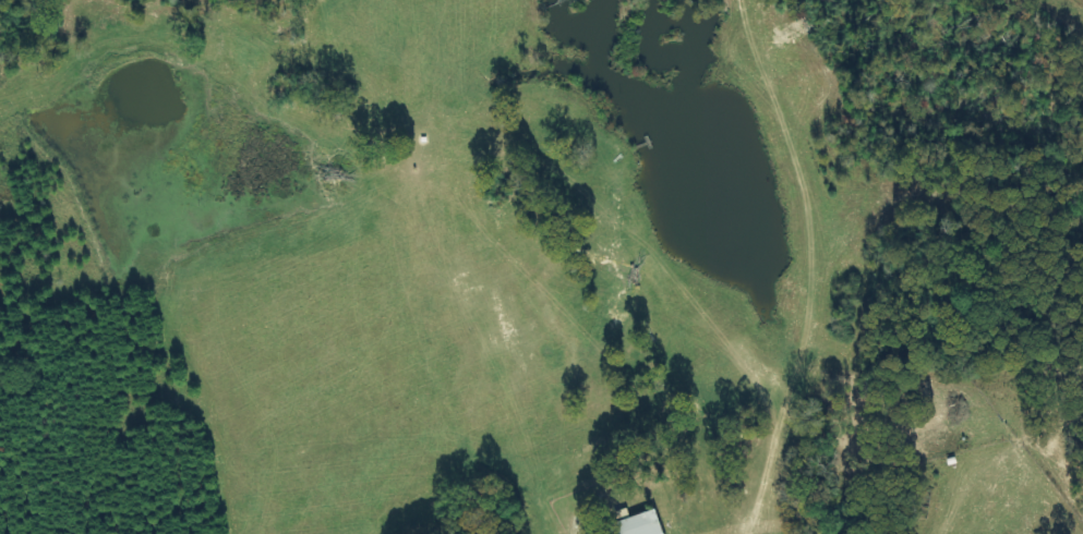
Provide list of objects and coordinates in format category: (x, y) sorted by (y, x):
building: (638, 525)

